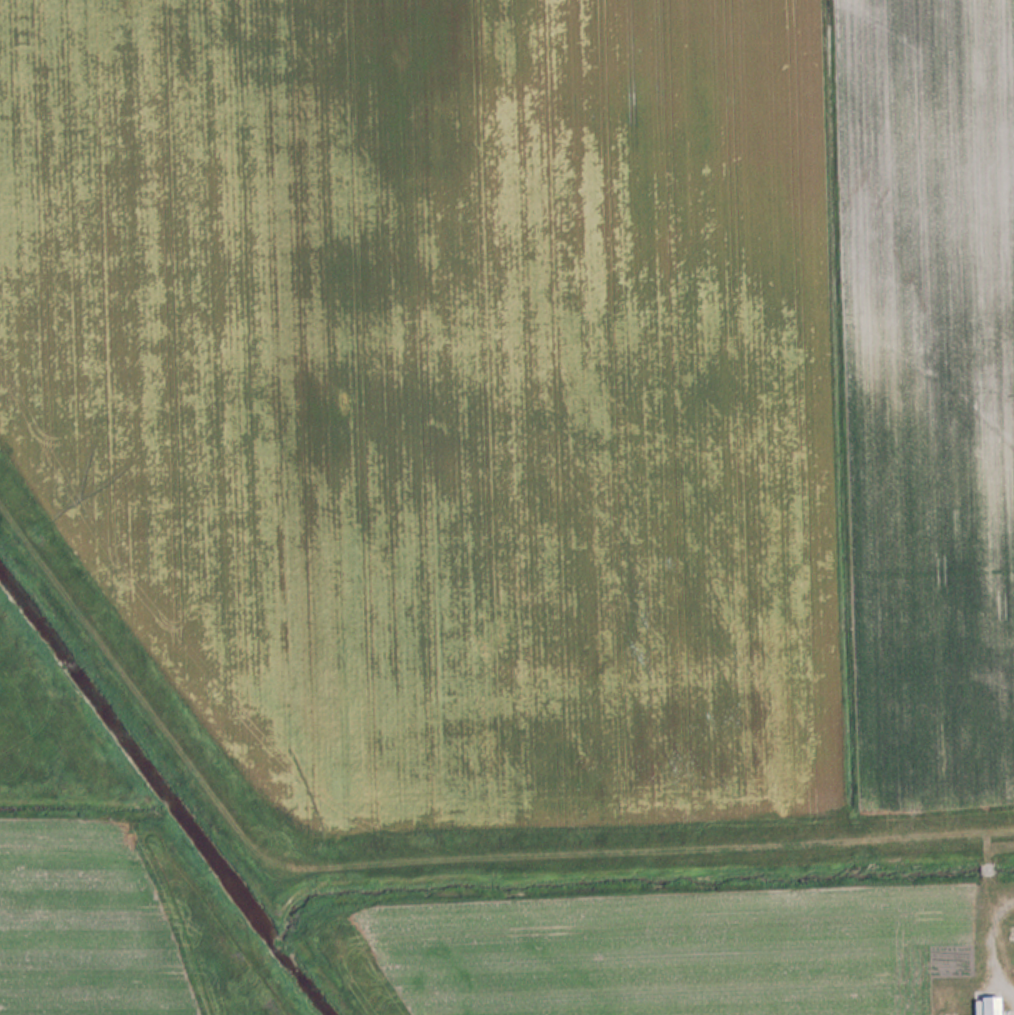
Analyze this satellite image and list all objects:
road: (944, 830)
building: (1011, 931)
road: (993, 940)
building: (991, 1005)

